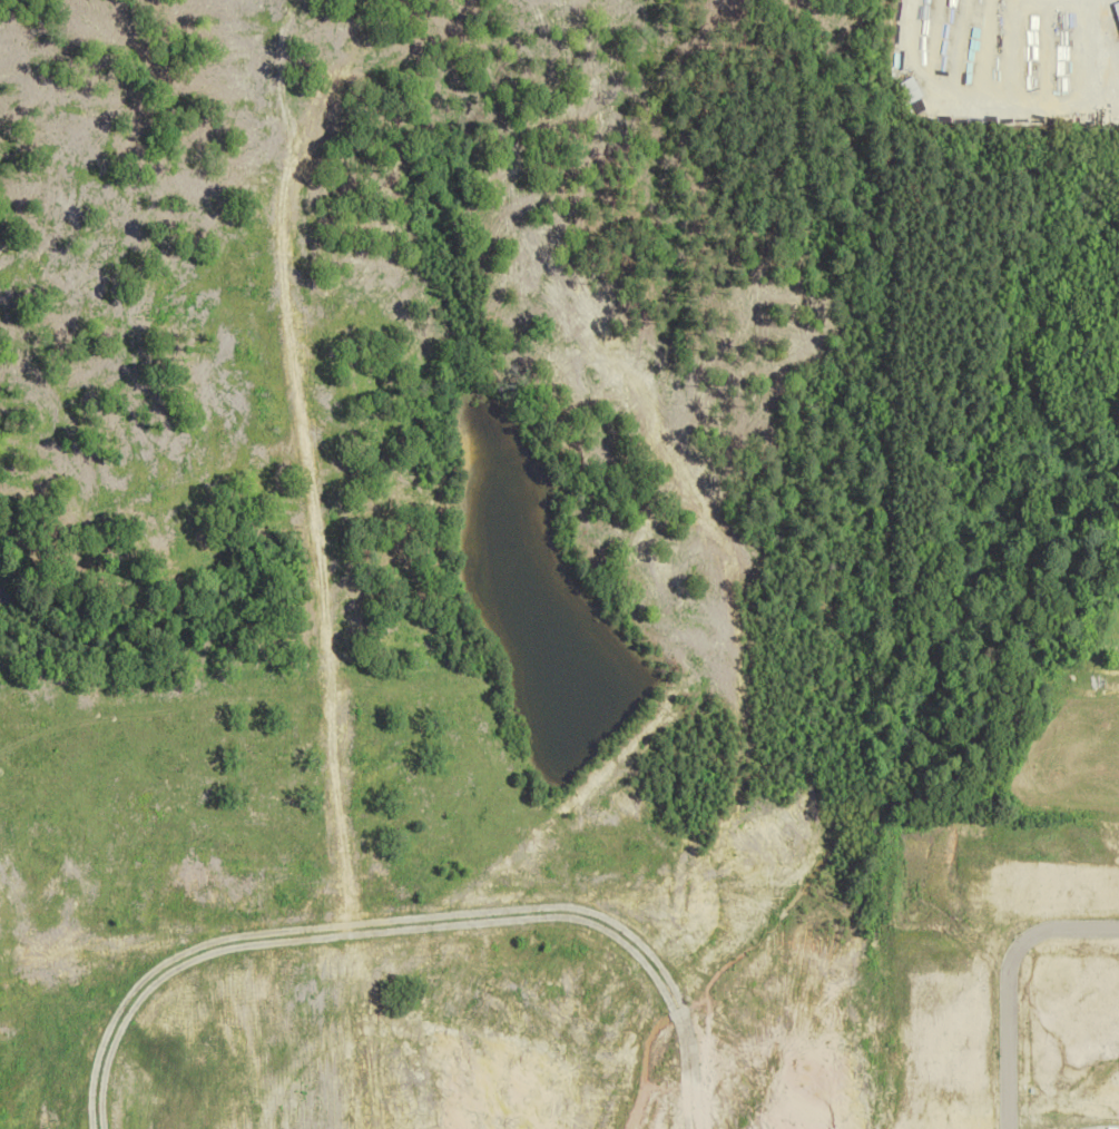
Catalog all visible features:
road: (1004, 979)

